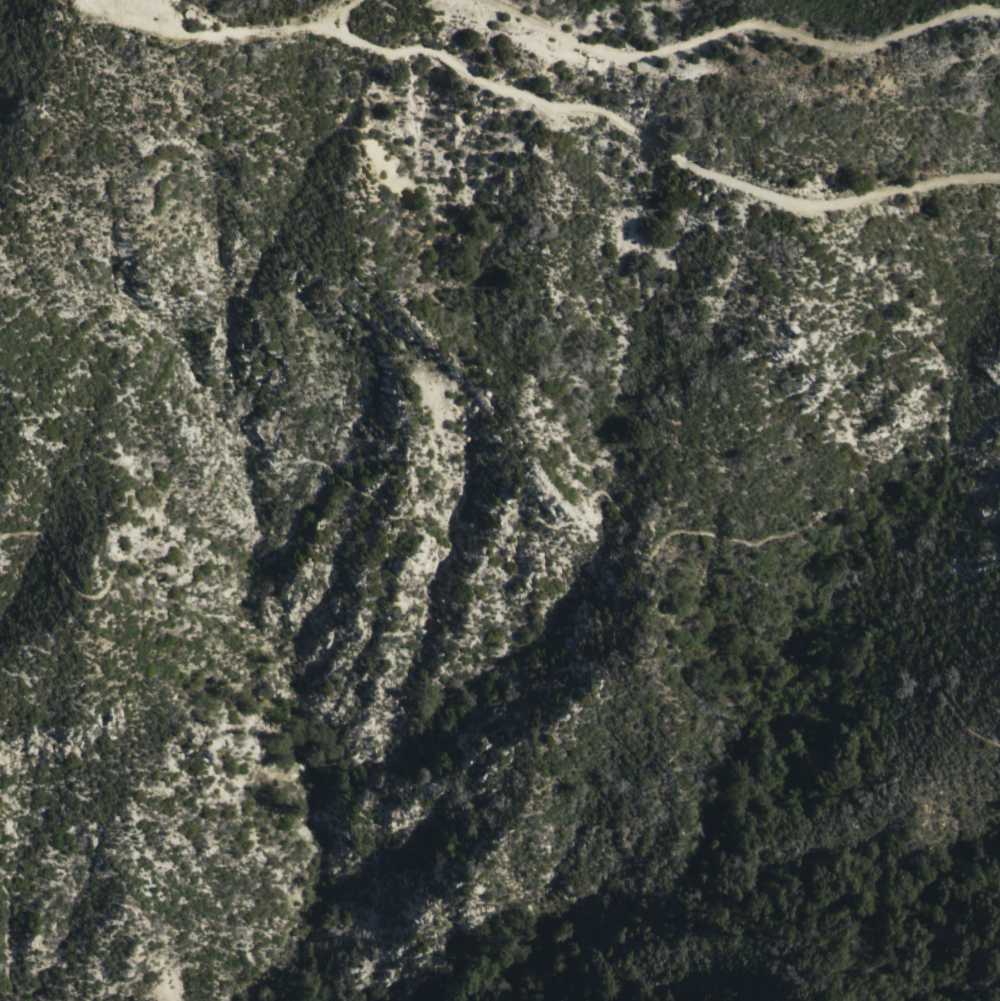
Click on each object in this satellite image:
road: (743, 22)
road: (239, 26)
road: (652, 136)
road: (532, 516)

